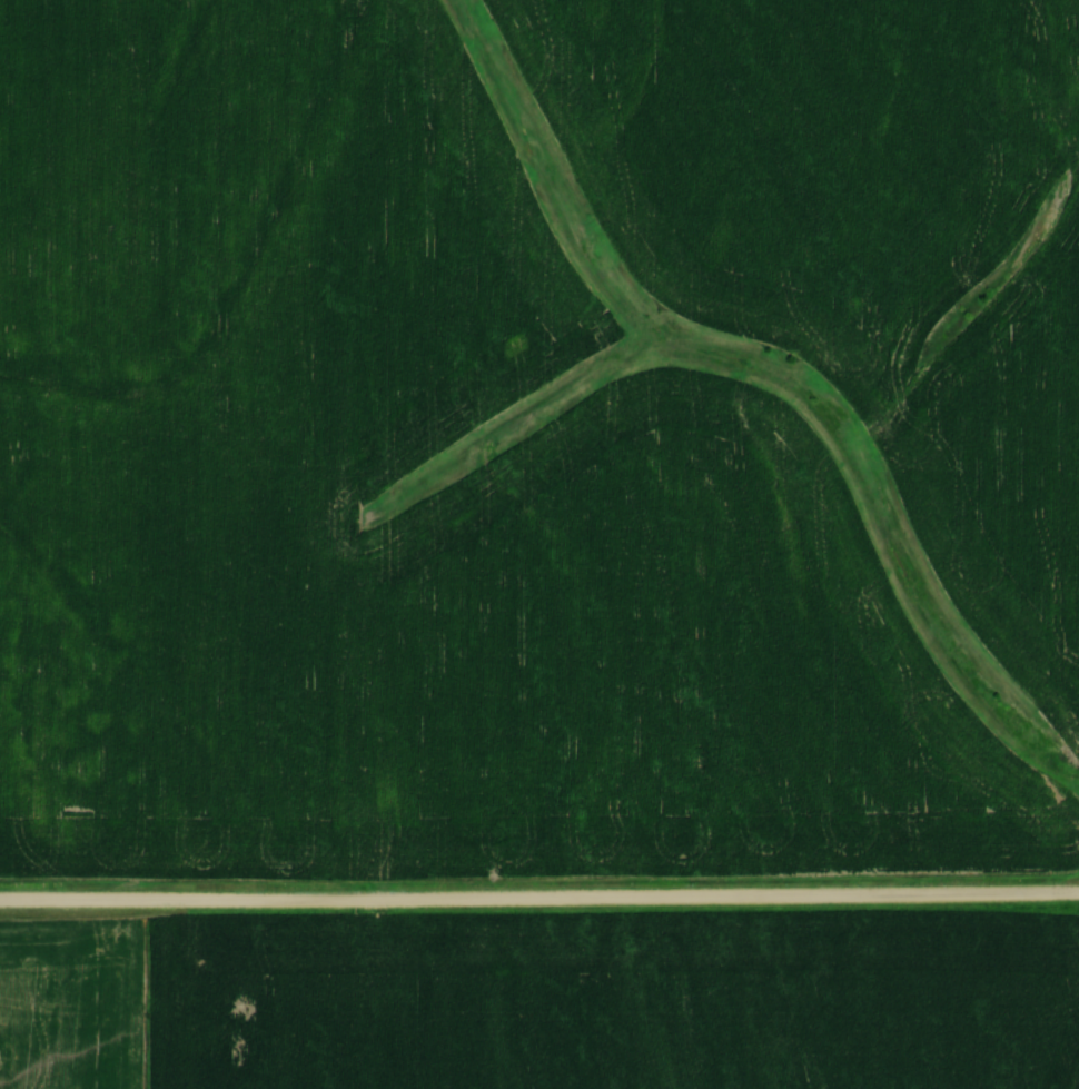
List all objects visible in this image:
road: (539, 890)

